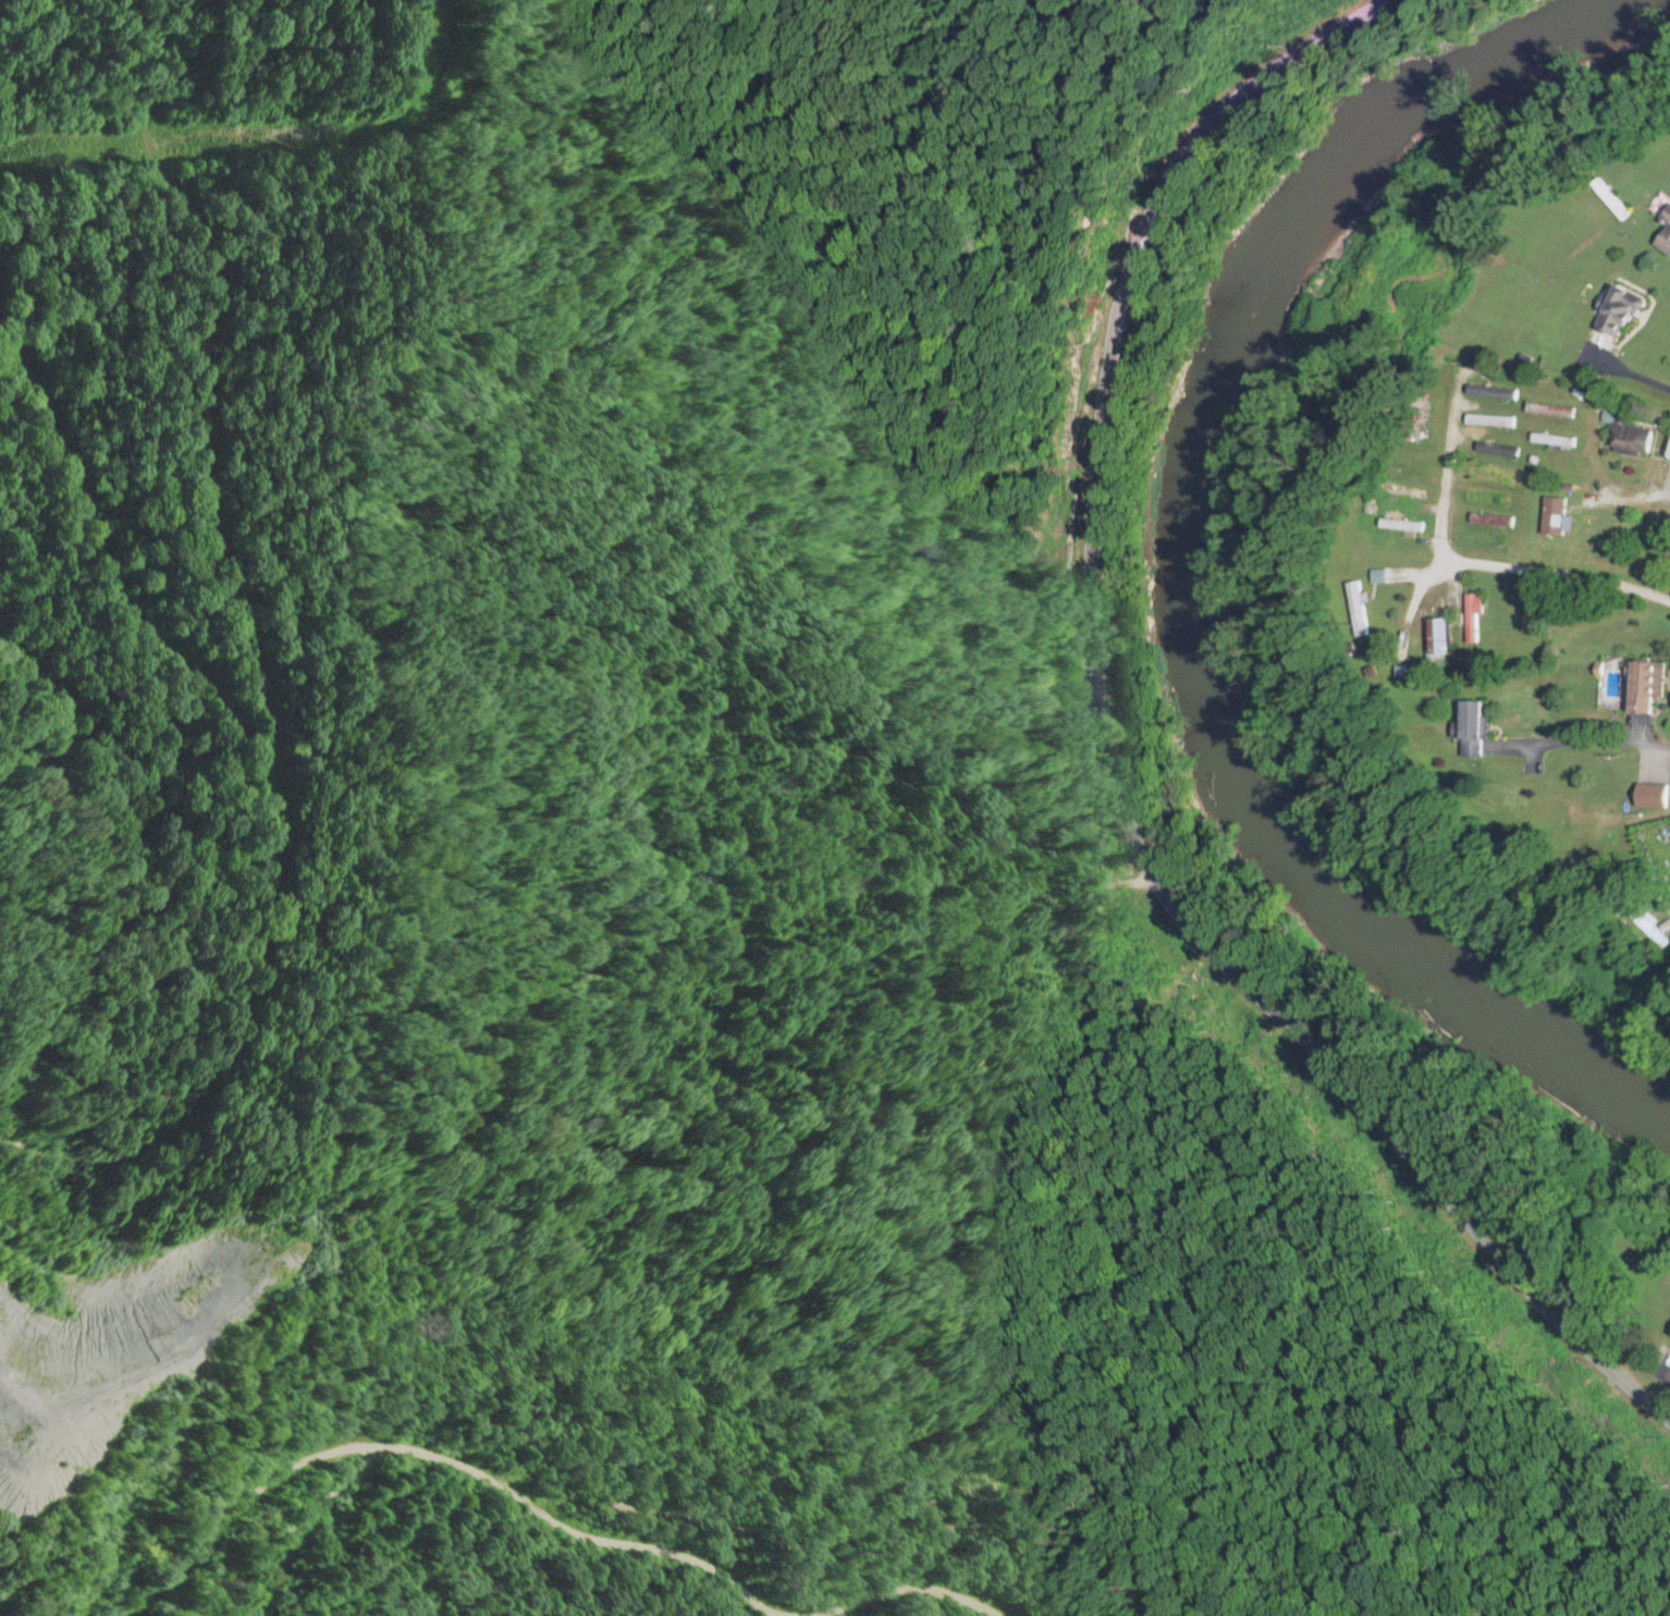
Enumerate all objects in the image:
building: (1663, 235)
building: (1618, 313)
road: (1644, 384)
building: (1490, 393)
building: (1549, 412)
building: (1419, 421)
building: (1488, 423)
building: (1630, 440)
building: (1551, 441)
building: (1496, 451)
building: (1668, 454)
building: (1493, 476)
building: (1554, 478)
building: (1556, 499)
building: (1483, 500)
building: (1490, 522)
building: (1400, 529)
building: (1484, 539)
river: (1179, 559)
building: (1667, 559)
building: (1355, 613)
building: (1471, 619)
building: (1437, 639)
building: (1644, 686)
building: (1470, 727)
road: (1580, 743)
road: (1107, 767)
building: (1660, 845)
building: (1572, 856)
building: (1647, 928)
quarry: (158, 1327)
road: (1660, 1376)
road: (542, 1511)

